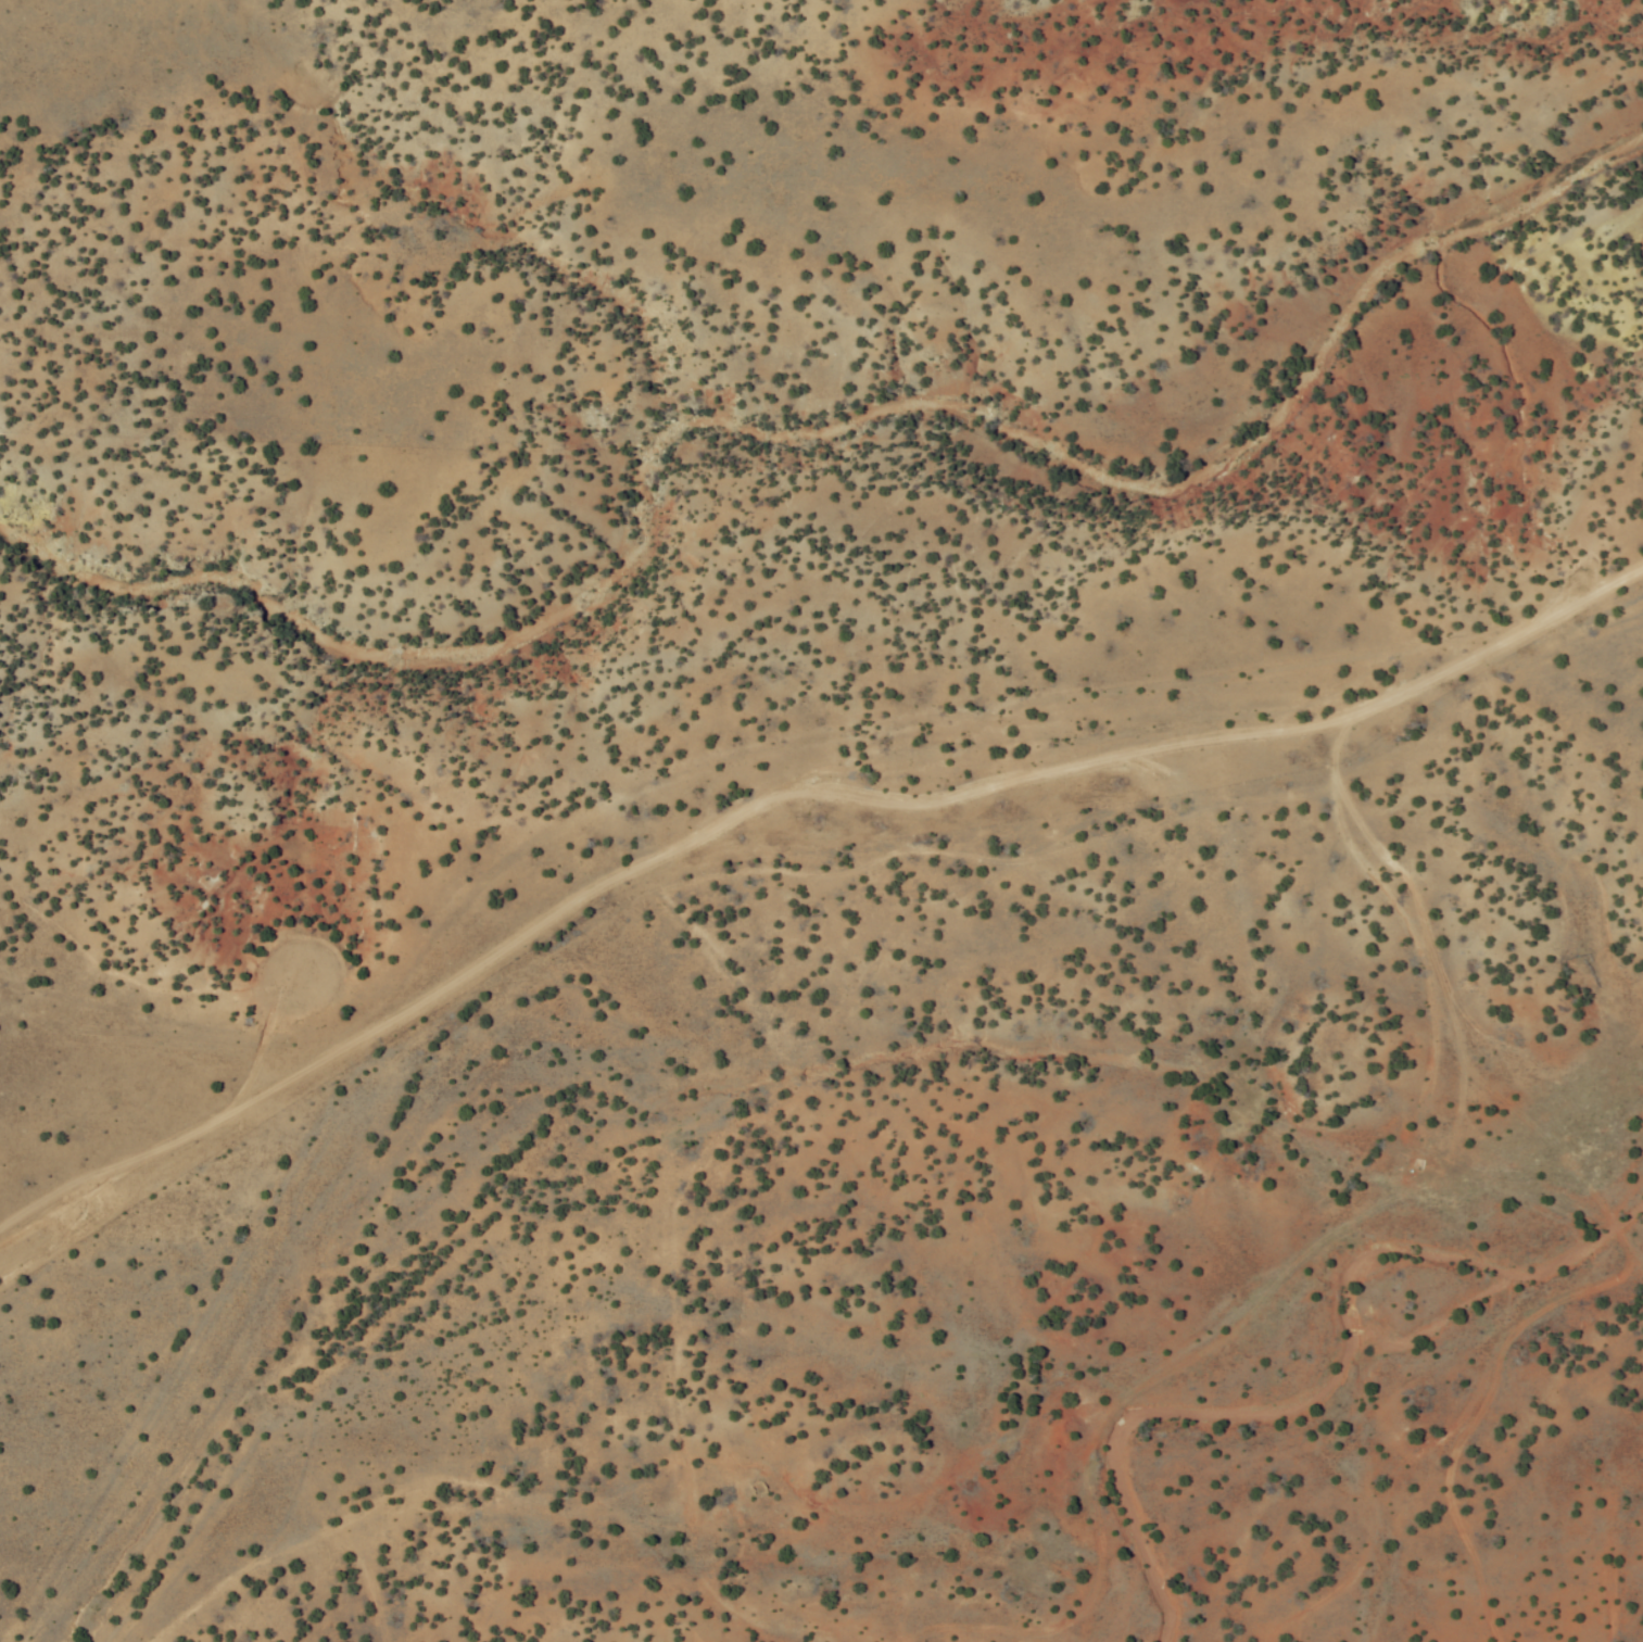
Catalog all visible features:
road: (811, 804)
road: (1592, 1186)

